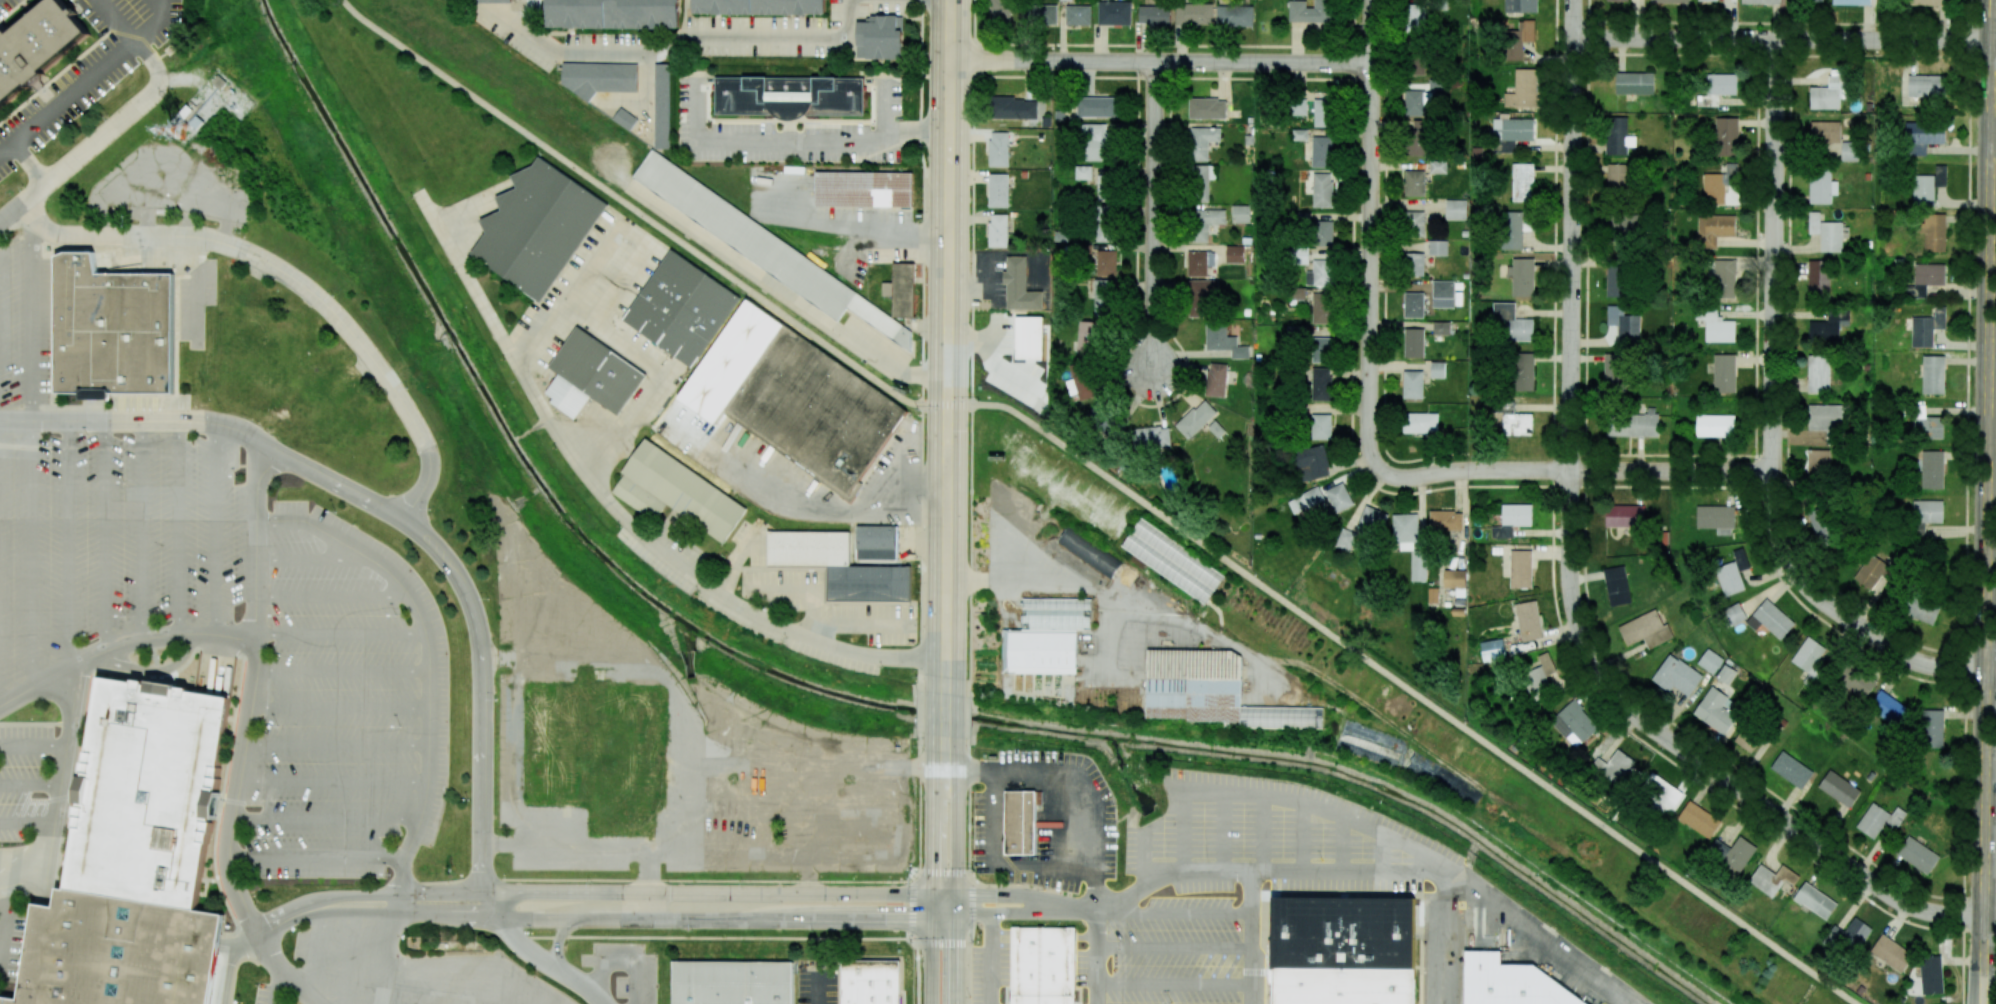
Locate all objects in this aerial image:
building: (484, 0)
building: (1061, 0)
building: (1617, 0)
building: (1709, 0)
building: (1813, 0)
building: (1669, 1)
building: (1761, 2)
building: (1852, 2)
building: (1926, 2)
building: (1521, 6)
building: (760, 7)
building: (1000, 10)
building: (1310, 11)
building: (1114, 12)
building: (1194, 13)
building: (613, 14)
building: (1040, 14)
building: (1078, 15)
building: (1154, 15)
building: (1234, 15)
building: (1416, 18)
road: (122, 28)
building: (879, 37)
building: (1518, 40)
road: (1782, 40)
building: (36, 45)
road: (697, 49)
road: (1163, 62)
building: (1416, 63)
building: (599, 77)
road: (86, 78)
building: (1635, 83)
building: (1926, 85)
building: (1717, 87)
building: (1523, 89)
building: (1830, 91)
building: (789, 96)
building: (1421, 98)
building: (219, 104)
road: (887, 104)
building: (661, 106)
building: (1097, 106)
building: (1300, 106)
building: (1014, 108)
building: (1207, 108)
building: (1324, 113)
building: (625, 119)
building: (1824, 132)
building: (1511, 133)
building: (1300, 135)
building: (1617, 136)
building: (1726, 136)
building: (1923, 136)
road: (1993, 136)
building: (1418, 137)
road: (800, 139)
building: (1096, 142)
building: (1203, 142)
road: (91, 144)
building: (999, 149)
building: (1322, 151)
building: (1849, 151)
road: (28, 163)
building: (1437, 166)
building: (1083, 172)
building: (1619, 176)
building: (1201, 182)
building: (1523, 182)
building: (1414, 183)
building: (1719, 184)
building: (1928, 186)
building: (1821, 187)
building: (1104, 188)
building: (863, 189)
building: (998, 190)
building: (1323, 190)
road: (629, 207)
building: (1456, 209)
road: (465, 212)
building: (1241, 213)
road: (30, 216)
road: (1155, 218)
building: (1105, 222)
building: (1204, 222)
building: (1413, 223)
building: (1622, 223)
building: (537, 228)
building: (1515, 228)
building: (1714, 229)
building: (998, 230)
road: (1372, 231)
building: (1933, 232)
building: (1323, 233)
building: (1826, 233)
building: (1437, 247)
building: (766, 248)
building: (1234, 254)
building: (1298, 255)
building: (1106, 262)
building: (1197, 263)
building: (1414, 264)
building: (1320, 273)
building: (1522, 277)
building: (1724, 278)
building: (1819, 278)
building: (1925, 279)
building: (1617, 281)
building: (1018, 285)
road: (307, 288)
road: (567, 289)
building: (903, 290)
building: (1298, 293)
building: (1443, 293)
road: (256, 295)
road: (789, 295)
building: (1202, 297)
building: (1103, 298)
building: (1413, 305)
building: (681, 308)
building: (1322, 308)
parking lot: (24, 319)
road: (33, 322)
building: (1513, 322)
building: (1624, 326)
building: (1716, 326)
building: (1828, 327)
building: (1927, 327)
building: (112, 328)
building: (1441, 328)
road: (258, 333)
building: (1089, 337)
building: (1223, 340)
road: (950, 342)
building: (1414, 343)
building: (1021, 349)
building: (1320, 349)
building: (1437, 369)
building: (597, 371)
building: (1523, 371)
building: (1615, 372)
building: (1724, 373)
building: (1818, 373)
road: (668, 374)
building: (1933, 374)
building: (1216, 379)
building: (1321, 384)
building: (1412, 384)
building: (287, 385)
traffic signals: (950, 406)
building: (815, 411)
building: (1826, 418)
building: (1196, 419)
road: (1773, 419)
road: (138, 420)
building: (1513, 420)
building: (1420, 422)
building: (1926, 424)
building: (1632, 425)
building: (1715, 425)
building: (1320, 426)
building: (1152, 437)
road: (1992, 440)
road: (1988, 458)
building: (1312, 462)
building: (1817, 462)
road: (257, 465)
road: (272, 468)
building: (1932, 469)
road: (1570, 471)
building: (677, 492)
building: (1339, 497)
road: (1965, 501)
building: (1307, 503)
road: (825, 505)
road: (257, 507)
road: (620, 512)
building: (1926, 515)
building: (1624, 516)
building: (1716, 518)
building: (1446, 520)
building: (1512, 520)
building: (1372, 521)
building: (1822, 523)
road: (179, 528)
road: (215, 529)
road: (142, 530)
road: (105, 535)
parking lot: (116, 540)
building: (879, 542)
road: (69, 544)
building: (1410, 544)
building: (1089, 552)
road: (32, 553)
road: (315, 560)
building: (1173, 561)
building: (838, 566)
building: (1520, 569)
building: (1871, 571)
road: (1571, 573)
building: (1733, 573)
building: (1454, 578)
road: (257, 583)
building: (1617, 585)
road: (779, 588)
road: (1072, 588)
building: (1432, 595)
road: (334, 597)
building: (1921, 609)
building: (1734, 614)
road: (475, 618)
building: (1770, 619)
road: (852, 620)
building: (1528, 620)
building: (1645, 629)
road: (342, 634)
building: (1046, 636)
road: (171, 638)
road: (428, 638)
building: (1493, 650)
building: (1810, 657)
building: (1710, 661)
road: (212, 664)
road: (343, 671)
road: (1991, 671)
road: (156, 672)
building: (1726, 674)
building: (1542, 675)
building: (1676, 675)
road: (1396, 681)
building: (1856, 681)
road: (43, 682)
road: (82, 691)
road: (57, 693)
river: (845, 696)
parking lot: (345, 704)
road: (340, 708)
building: (1888, 708)
building: (1716, 710)
building: (1283, 716)
building: (1574, 723)
road: (948, 728)
building: (1931, 728)
building: (1746, 739)
road: (337, 745)
road: (36, 746)
building: (1614, 766)
building: (1791, 769)
road: (703, 771)
road: (999, 775)
parking lot: (24, 776)
road: (333, 782)
road: (33, 784)
building: (1839, 788)
road: (236, 790)
building: (1660, 792)
building: (148, 793)
road: (1284, 798)
road: (60, 819)
road: (325, 819)
building: (1699, 819)
building: (1880, 820)
building: (1021, 822)
road: (29, 823)
road: (1224, 831)
road: (1262, 833)
parking lot: (1270, 836)
road: (1302, 837)
road: (933, 842)
road: (959, 843)
road: (1344, 844)
building: (1733, 852)
road: (1384, 853)
road: (861, 855)
building: (1917, 855)
road: (316, 858)
road: (1145, 858)
road: (21, 861)
road: (12, 872)
road: (1298, 872)
building: (1772, 878)
road: (649, 884)
road: (604, 892)
traffic signals: (933, 895)
traffic signals: (959, 895)
building: (1815, 901)
road: (1111, 904)
road: (1073, 907)
road: (8, 910)
road: (1174, 914)
traffic signals: (933, 917)
traffic signals: (959, 917)
road: (1990, 917)
road: (606, 919)
road: (392, 931)
road: (2, 935)
building: (1848, 936)
road: (246, 937)
road: (1097, 937)
building: (1352, 937)
road: (1547, 937)
road: (1252, 938)
road: (1446, 939)
road: (561, 940)
road: (227, 945)
road: (1174, 948)
road: (2, 952)
building: (119, 953)
building: (1891, 953)
parking lot: (1173, 954)
road: (314, 955)
road: (535, 956)
road: (348, 958)
road: (932, 960)
road: (958, 960)
road: (991, 960)
road: (1981, 960)
road: (1988, 960)
road: (426, 964)
building: (1041, 965)
parking lot: (991, 968)
road: (283, 970)
road: (229, 971)
parking lot: (413, 974)
building: (1931, 974)
parking lot: (1587, 975)
road: (503, 980)
building: (870, 981)
building: (733, 982)
road: (460, 983)
road: (1173, 983)
building: (1511, 983)
road: (423, 984)
parking lot: (816, 984)
road: (818, 984)
road: (277, 987)
road: (497, 991)
parking lot: (267, 994)
building: (1346, 994)
road: (1620, 997)
road: (224, 1001)
road: (226, 1001)
road: (534, 1002)

